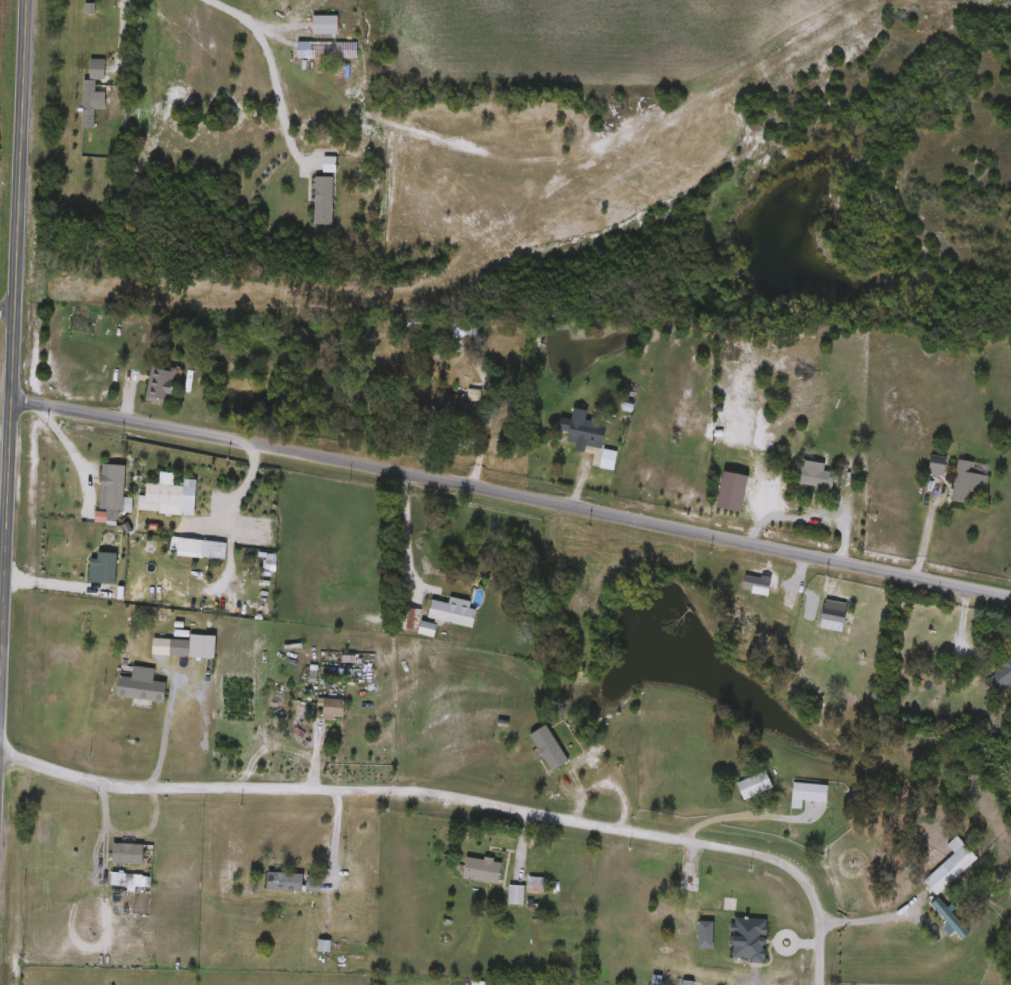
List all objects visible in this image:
building: (325, 24)
road: (122, 35)
building: (326, 50)
road: (275, 62)
building: (91, 91)
road: (10, 297)
road: (5, 309)
building: (464, 338)
building: (162, 384)
road: (3, 430)
building: (585, 431)
road: (63, 438)
building: (608, 461)
building: (937, 466)
building: (815, 476)
building: (969, 480)
road: (246, 481)
building: (115, 486)
road: (509, 491)
building: (160, 497)
road: (405, 530)
building: (453, 611)
building: (171, 647)
building: (1000, 678)
building: (141, 686)
building: (333, 710)
building: (574, 766)
building: (755, 786)
building: (808, 794)
road: (456, 796)
road: (725, 815)
building: (134, 854)
building: (483, 870)
building: (939, 879)
building: (284, 882)
building: (535, 885)
building: (516, 895)
building: (949, 919)
road: (862, 920)
building: (687, 924)
building: (750, 940)

